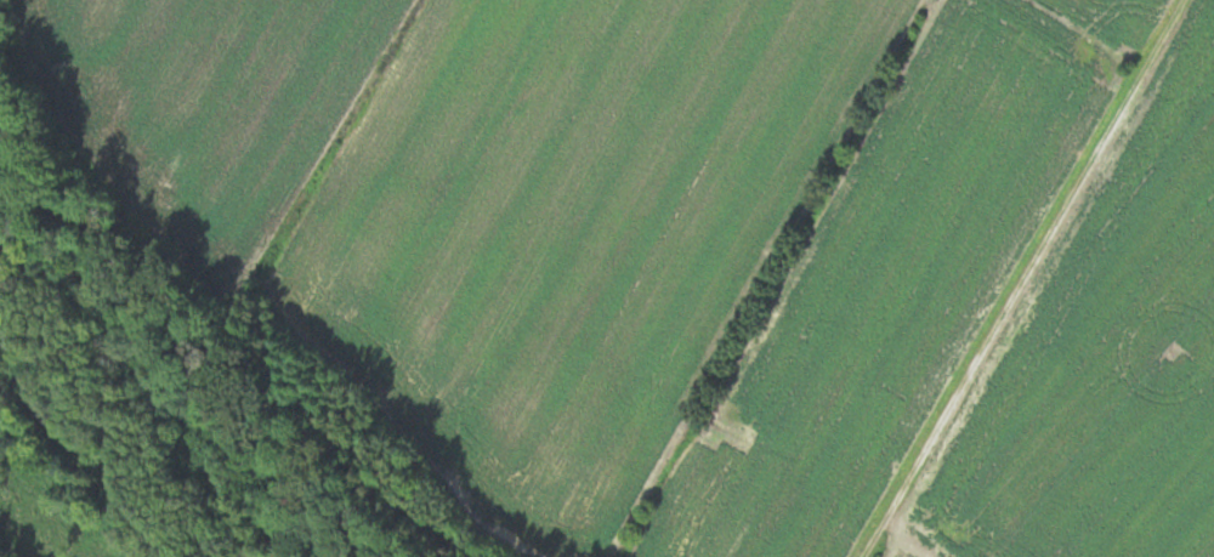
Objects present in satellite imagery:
road: (1062, 278)

